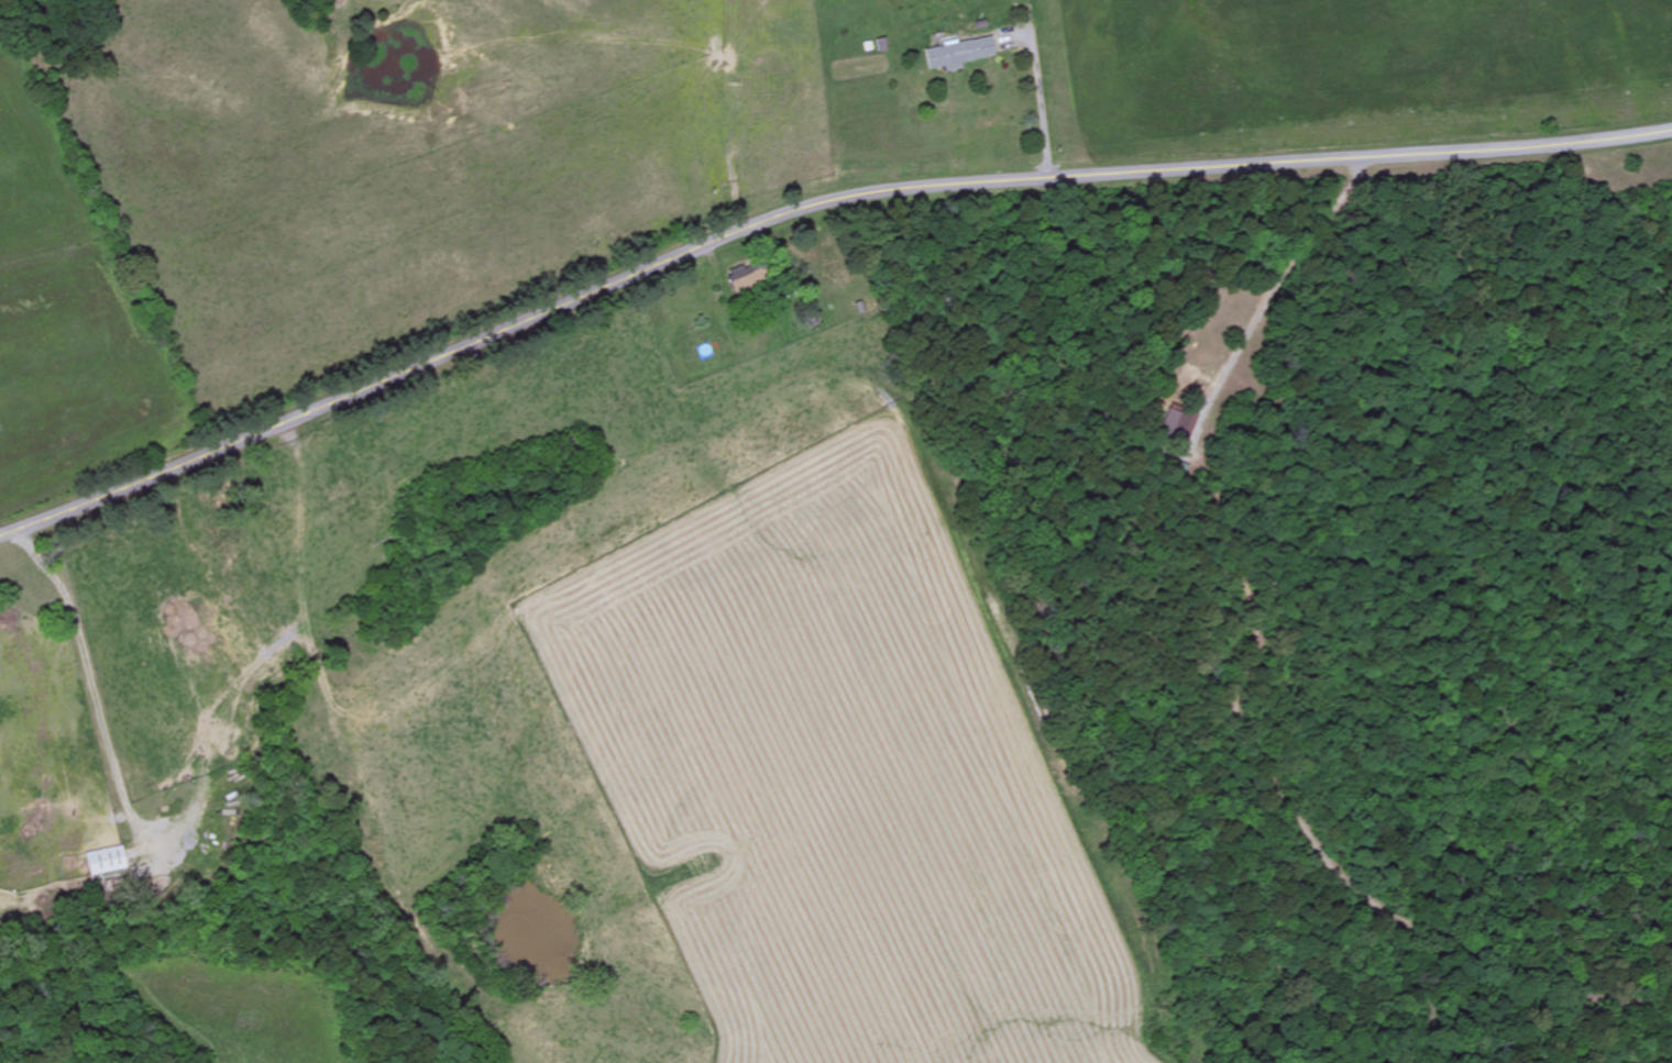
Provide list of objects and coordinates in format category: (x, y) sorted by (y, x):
road: (805, 208)
building: (1173, 427)
building: (107, 862)

